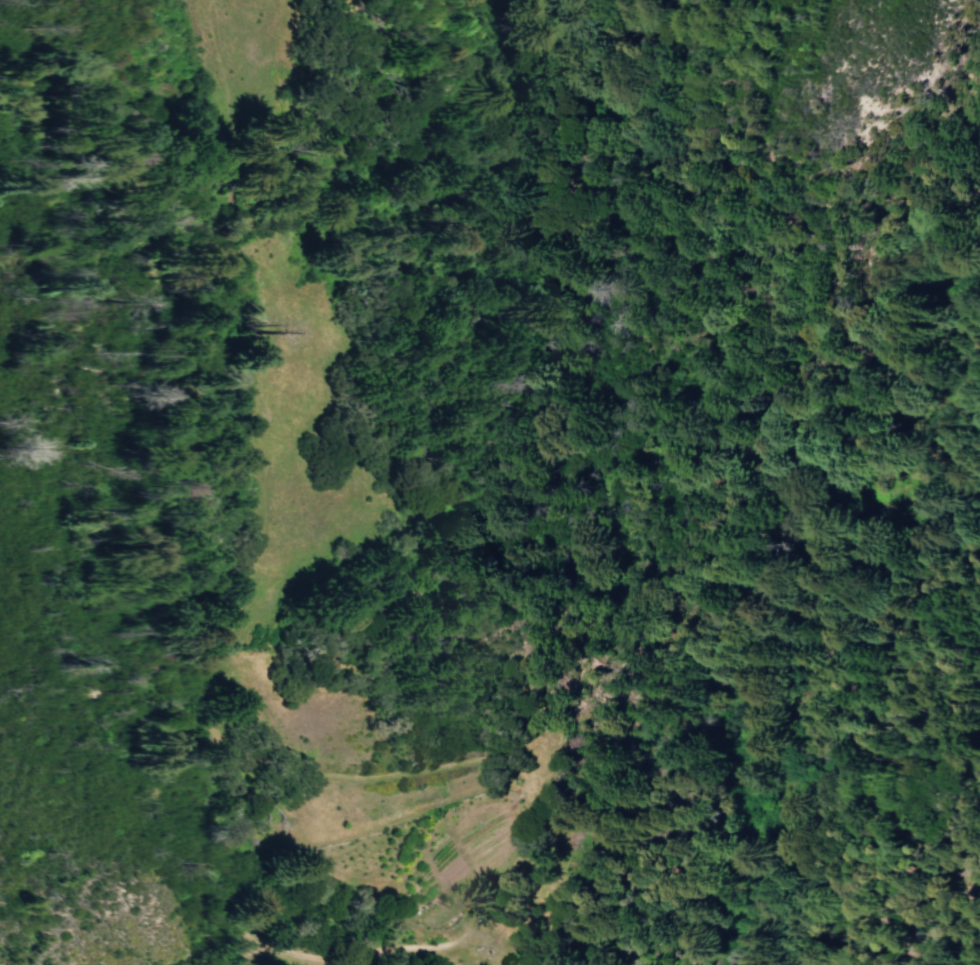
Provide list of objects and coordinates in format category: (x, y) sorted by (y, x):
road: (254, 721)

